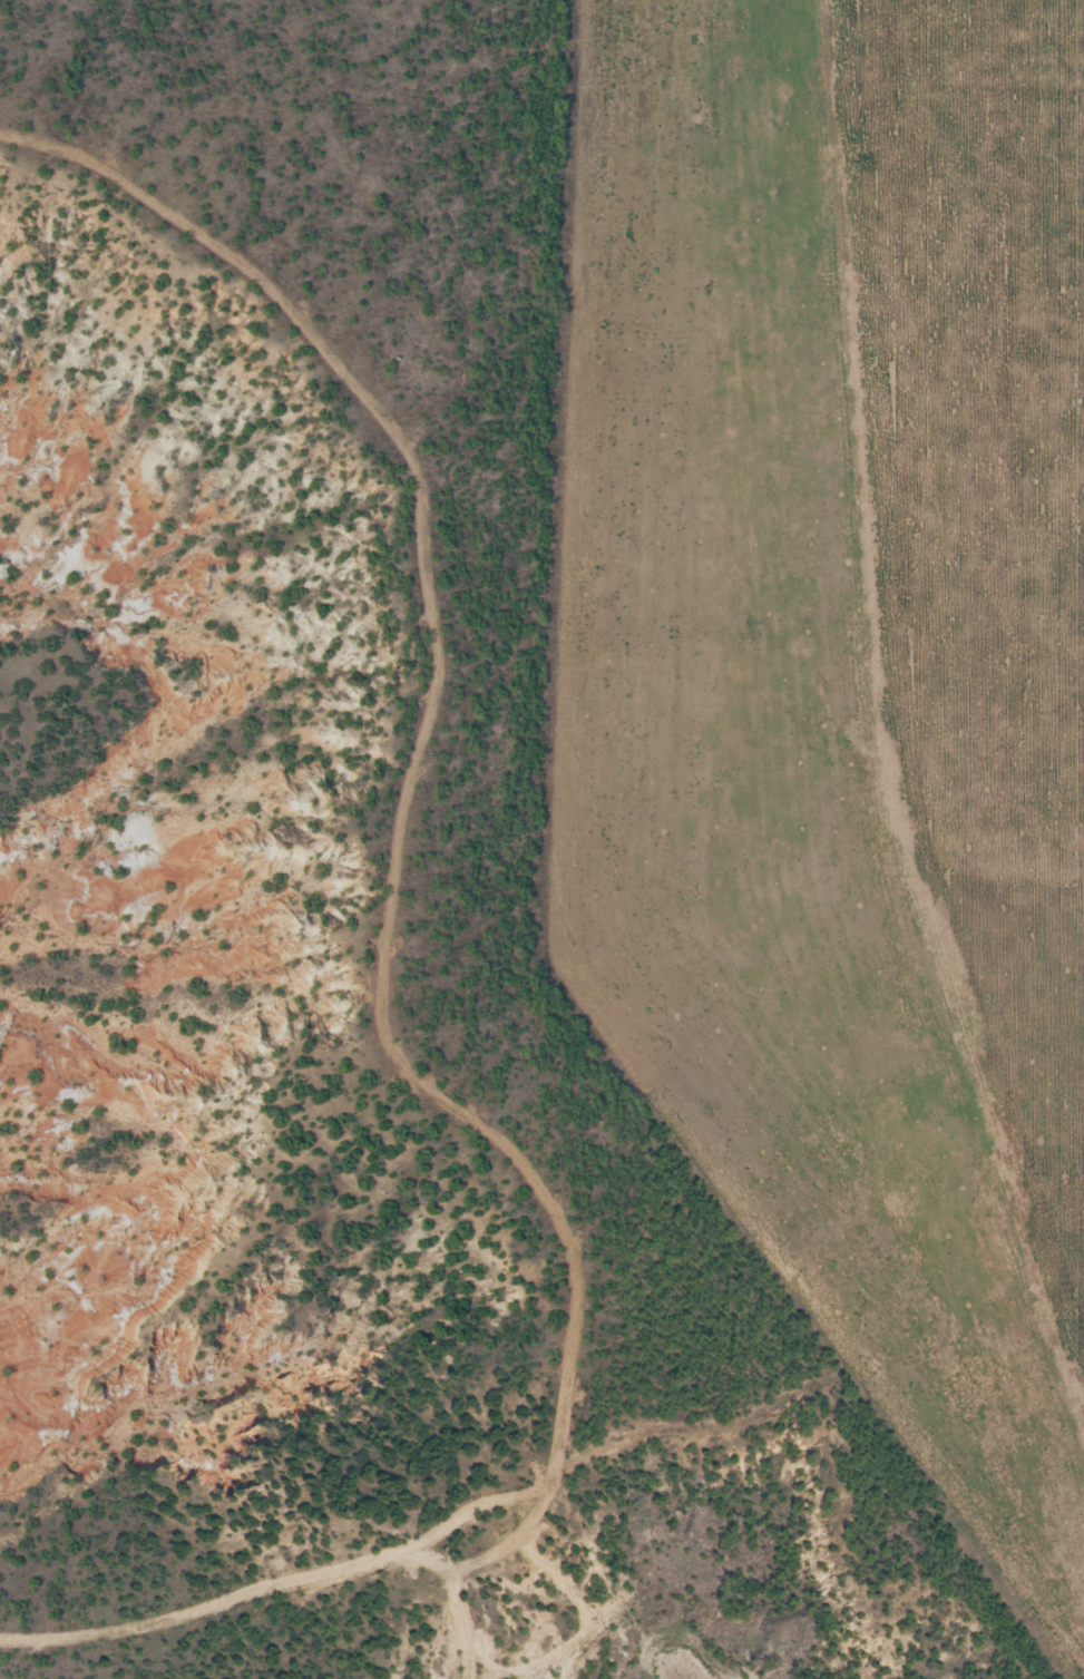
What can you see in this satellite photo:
road: (561, 1465)

